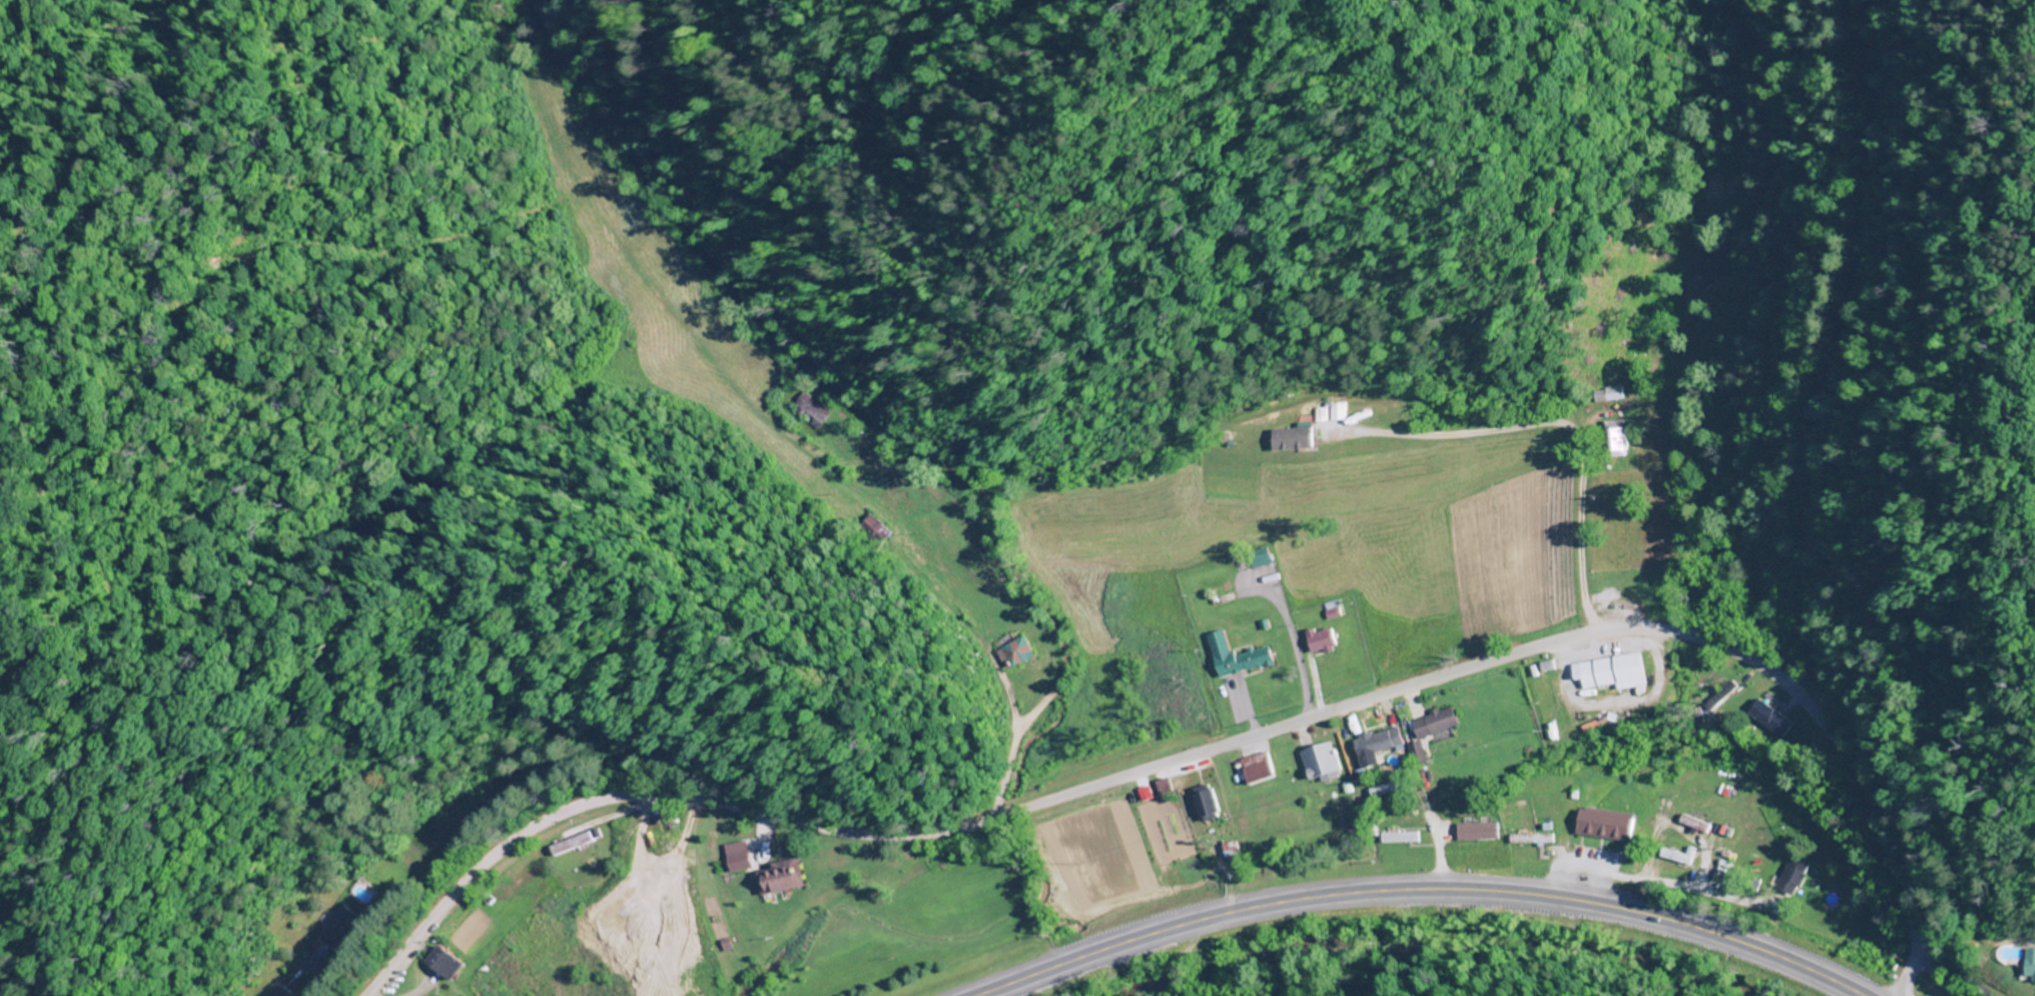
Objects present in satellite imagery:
building: (1611, 394)
building: (1331, 413)
building: (1620, 437)
building: (1295, 439)
building: (1323, 640)
building: (1015, 654)
building: (1237, 657)
building: (1616, 672)
building: (1543, 698)
building: (1771, 718)
building: (1437, 723)
road: (1218, 743)
building: (1379, 745)
building: (1323, 763)
building: (1260, 768)
building: (1208, 803)
building: (1608, 826)
building: (1478, 831)
building: (1401, 837)
building: (567, 844)
building: (1677, 857)
building: (735, 862)
road: (1669, 875)
building: (1793, 877)
building: (780, 878)
road: (1422, 892)
building: (344, 927)
building: (2033, 961)
building: (441, 963)
road: (1933, 977)

